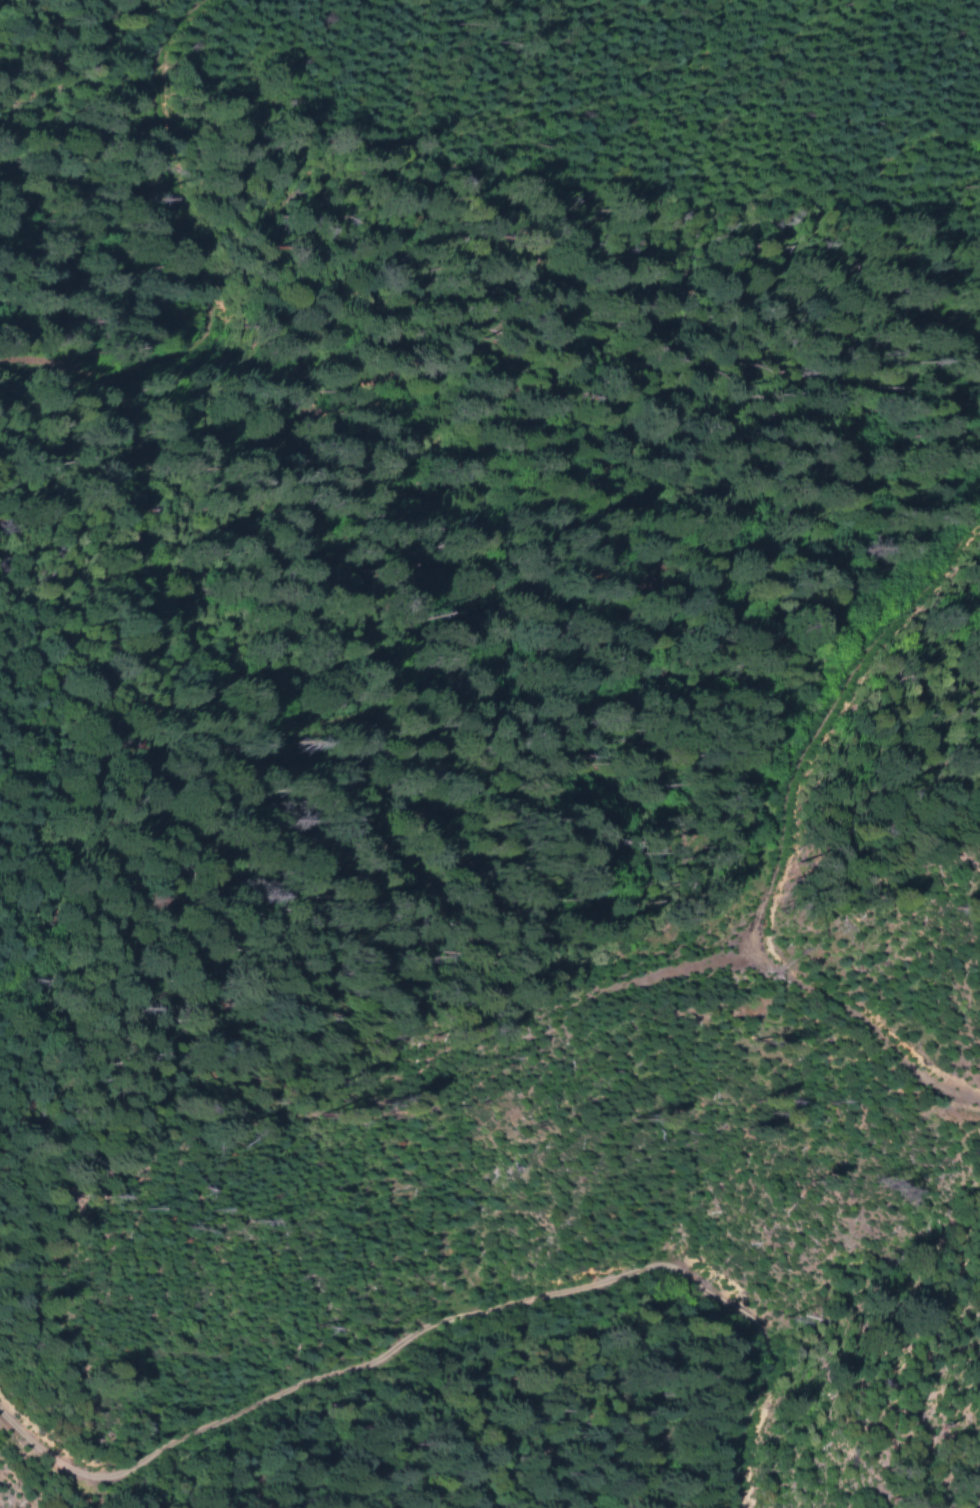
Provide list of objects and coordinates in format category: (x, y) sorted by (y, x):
road: (175, 263)
road: (764, 845)
road: (445, 1318)

